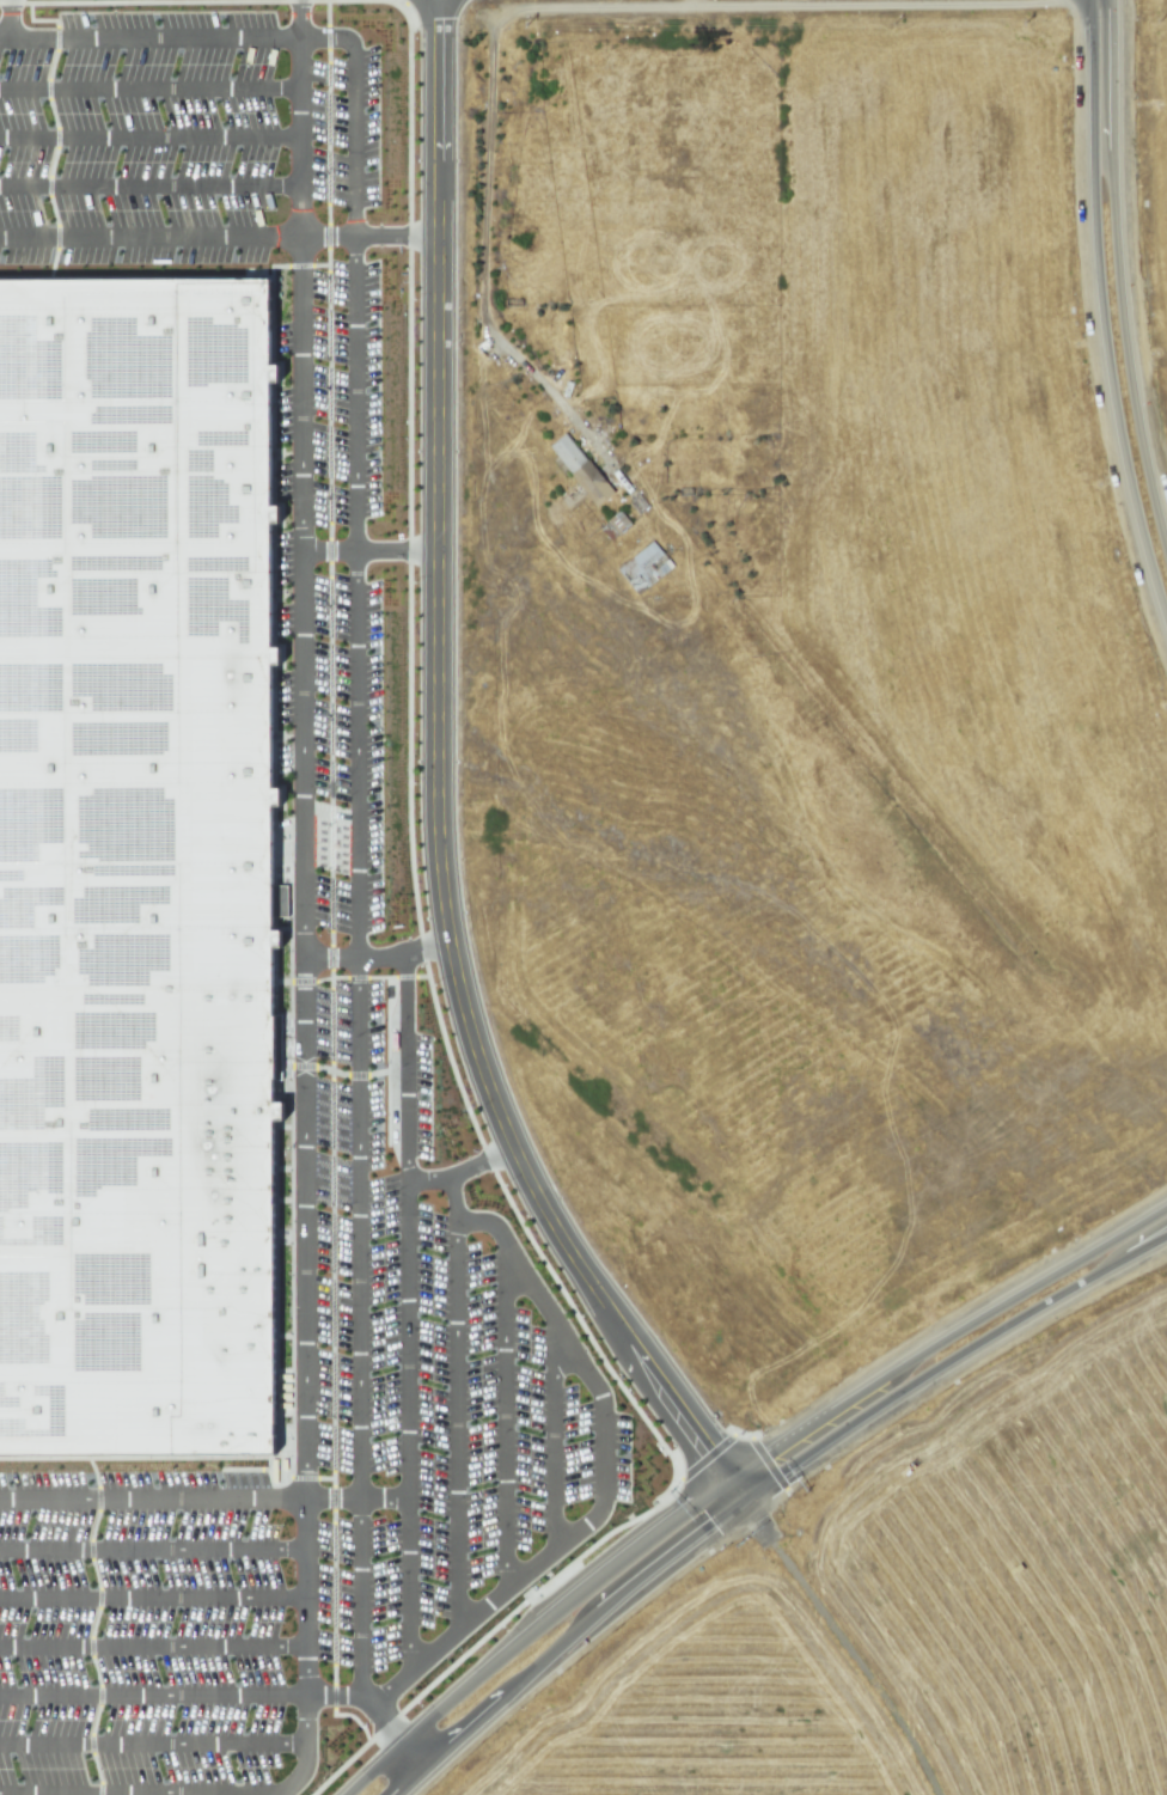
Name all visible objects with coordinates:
road: (10, 18)
road: (299, 18)
road: (149, 86)
road: (54, 127)
road: (300, 135)
road: (149, 136)
road: (149, 185)
road: (326, 236)
road: (395, 236)
road: (1117, 276)
road: (1096, 318)
building: (579, 469)
road: (354, 472)
building: (617, 521)
road: (368, 547)
building: (643, 567)
road: (439, 774)
road: (409, 814)
building: (136, 872)
road: (330, 881)
building: (279, 900)
road: (418, 952)
road: (331, 955)
road: (372, 955)
road: (358, 976)
road: (305, 1015)
road: (338, 1073)
road: (404, 1081)
road: (471, 1161)
road: (291, 1305)
road: (359, 1323)
road: (407, 1335)
road: (505, 1419)
road: (456, 1423)
road: (554, 1439)
road: (268, 1463)
road: (601, 1464)
road: (732, 1469)
road: (271, 1484)
road: (735, 1492)
road: (765, 1495)
road: (407, 1530)
road: (151, 1551)
road: (303, 1596)
road: (151, 1599)
road: (93, 1625)
parking lot: (136, 1634)
road: (152, 1649)
road: (844, 1650)
road: (157, 1696)
road: (380, 1712)
road: (306, 1727)
road: (152, 1747)
road: (414, 1752)
road: (190, 1794)

